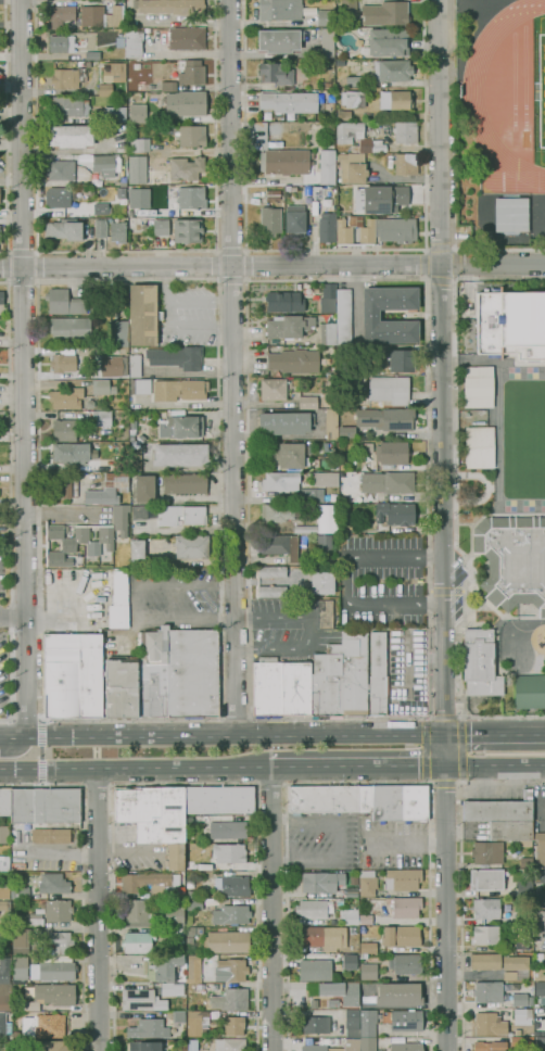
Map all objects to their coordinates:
building: (170, 5)
building: (347, 5)
building: (280, 9)
building: (386, 13)
building: (92, 15)
building: (63, 16)
building: (325, 17)
building: (187, 38)
building: (279, 40)
building: (119, 41)
building: (388, 41)
building: (134, 42)
building: (328, 42)
building: (61, 43)
building: (92, 54)
building: (392, 69)
building: (110, 71)
building: (191, 72)
building: (276, 74)
track: (524, 77)
building: (65, 78)
track: (514, 80)
building: (353, 81)
building: (328, 85)
building: (168, 86)
park: (541, 88)
building: (105, 89)
park: (542, 89)
track: (471, 97)
building: (353, 98)
building: (395, 99)
building: (186, 102)
building: (289, 102)
building: (68, 106)
building: (137, 113)
building: (114, 114)
building: (345, 115)
road: (423, 125)
road: (7, 129)
building: (405, 131)
building: (71, 136)
building: (191, 136)
building: (344, 137)
building: (140, 144)
building: (342, 157)
building: (286, 161)
building: (406, 163)
building: (104, 164)
building: (327, 166)
building: (186, 167)
building: (61, 169)
building: (137, 169)
building: (356, 173)
building: (159, 176)
building: (290, 188)
building: (77, 189)
building: (307, 189)
building: (89, 191)
building: (316, 191)
building: (121, 192)
building: (272, 194)
building: (59, 197)
building: (137, 198)
building: (191, 198)
building: (383, 199)
building: (100, 208)
building: (511, 214)
road: (243, 215)
building: (294, 219)
building: (270, 220)
building: (541, 220)
building: (130, 221)
building: (155, 227)
building: (100, 228)
building: (326, 228)
building: (64, 229)
building: (396, 229)
building: (187, 230)
building: (117, 231)
building: (343, 232)
building: (367, 232)
road: (439, 248)
road: (124, 250)
road: (230, 250)
road: (456, 250)
road: (498, 250)
road: (22, 251)
road: (456, 263)
road: (421, 264)
road: (245, 265)
road: (38, 266)
road: (216, 266)
road: (272, 266)
road: (9, 267)
road: (21, 268)
road: (456, 277)
road: (440, 278)
road: (22, 281)
road: (230, 281)
road: (440, 282)
building: (1, 297)
building: (328, 297)
road: (180, 301)
building: (64, 302)
building: (284, 302)
building: (142, 314)
parking lot: (187, 314)
building: (370, 315)
building: (343, 317)
building: (511, 325)
building: (288, 326)
road: (187, 327)
building: (69, 329)
building: (118, 332)
building: (328, 333)
building: (176, 357)
building: (295, 360)
building: (401, 360)
building: (62, 363)
building: (135, 365)
building: (111, 366)
road: (232, 367)
building: (362, 378)
building: (102, 387)
building: (140, 387)
building: (477, 388)
building: (272, 389)
building: (389, 389)
building: (194, 391)
building: (330, 392)
building: (66, 398)
building: (307, 402)
building: (360, 402)
building: (101, 418)
building: (385, 419)
building: (283, 422)
building: (331, 423)
building: (185, 427)
building: (64, 430)
building: (346, 432)
park: (522, 439)
building: (365, 447)
building: (479, 447)
building: (71, 453)
building: (392, 453)
building: (180, 455)
building: (288, 455)
building: (325, 479)
building: (386, 482)
building: (185, 484)
building: (291, 486)
building: (64, 487)
building: (107, 489)
building: (144, 489)
road: (455, 495)
road: (10, 503)
building: (343, 508)
building: (139, 512)
building: (278, 512)
building: (395, 514)
building: (181, 515)
building: (321, 521)
building: (86, 536)
building: (303, 540)
building: (324, 542)
building: (280, 545)
building: (192, 546)
building: (137, 547)
building: (512, 560)
building: (271, 571)
road: (442, 580)
road: (348, 581)
parking lot: (381, 581)
building: (321, 582)
building: (119, 587)
building: (271, 591)
road: (445, 591)
parking lot: (173, 598)
road: (136, 603)
building: (324, 613)
road: (13, 615)
building: (117, 616)
parking lot: (282, 625)
road: (309, 630)
parking lot: (3, 632)
road: (26, 635)
building: (480, 663)
building: (510, 669)
building: (177, 673)
building: (72, 675)
building: (378, 675)
building: (341, 678)
road: (443, 684)
building: (121, 687)
building: (280, 687)
building: (530, 692)
road: (427, 712)
road: (235, 716)
road: (220, 718)
road: (13, 720)
road: (27, 721)
road: (41, 721)
road: (494, 733)
road: (221, 734)
traffic signals: (444, 734)
road: (18, 750)
road: (41, 751)
road: (356, 765)
traffic signals: (444, 765)
road: (135, 767)
road: (494, 770)
road: (358, 783)
road: (444, 783)
road: (42, 784)
road: (97, 784)
road: (111, 784)
road: (183, 784)
road: (270, 784)
road: (83, 785)
building: (218, 799)
building: (322, 799)
building: (365, 799)
building: (386, 802)
building: (414, 802)
building: (40, 805)
building: (498, 809)
building: (152, 811)
building: (228, 830)
building: (510, 830)
building: (4, 832)
building: (50, 835)
road: (342, 840)
road: (408, 841)
building: (524, 844)
building: (540, 849)
building: (487, 852)
building: (229, 853)
building: (174, 857)
building: (527, 862)
building: (4, 863)
road: (460, 874)
building: (538, 875)
road: (81, 878)
building: (403, 878)
building: (486, 879)
building: (321, 882)
building: (367, 882)
building: (53, 883)
building: (151, 884)
building: (232, 886)
building: (524, 889)
building: (3, 892)
building: (21, 892)
building: (352, 892)
building: (191, 894)
building: (541, 899)
building: (193, 904)
building: (3, 906)
building: (406, 907)
road: (271, 908)
road: (445, 908)
building: (485, 908)
road: (97, 909)
building: (138, 909)
building: (314, 909)
building: (58, 910)
building: (174, 914)
building: (231, 914)
building: (524, 914)
building: (348, 916)
building: (33, 919)
building: (366, 920)
building: (538, 923)
building: (190, 930)
building: (199, 930)
building: (485, 934)
building: (176, 935)
building: (401, 935)
building: (322, 937)
building: (189, 939)
building: (21, 940)
building: (61, 941)
building: (138, 941)
building: (226, 941)
building: (522, 944)
building: (367, 947)
building: (350, 962)
building: (406, 964)
building: (503, 964)
building: (20, 966)
building: (167, 966)
building: (194, 968)
building: (4, 970)
building: (231, 970)
building: (315, 970)
building: (53, 971)
building: (368, 971)
building: (538, 974)
building: (529, 983)
building: (540, 988)
building: (172, 989)
building: (341, 991)
building: (487, 991)
building: (52, 993)
building: (398, 993)
building: (5, 997)
building: (230, 999)
building: (520, 999)
building: (141, 1000)
building: (331, 1003)
building: (30, 1005)
building: (15, 1009)
building: (542, 1014)
building: (178, 1016)
building: (522, 1016)
building: (193, 1017)
building: (403, 1020)
building: (352, 1023)
building: (367, 1023)
building: (316, 1024)
building: (490, 1024)
building: (232, 1025)
building: (4, 1026)
building: (43, 1026)
building: (148, 1028)
building: (517, 1031)
building: (540, 1042)
building: (367, 1043)
building: (522, 1043)
building: (229, 1044)
building: (49, 1046)
building: (315, 1046)
building: (490, 1046)
building: (18, 1047)
building: (143, 1047)
building: (406, 1047)
building: (174, 1050)

